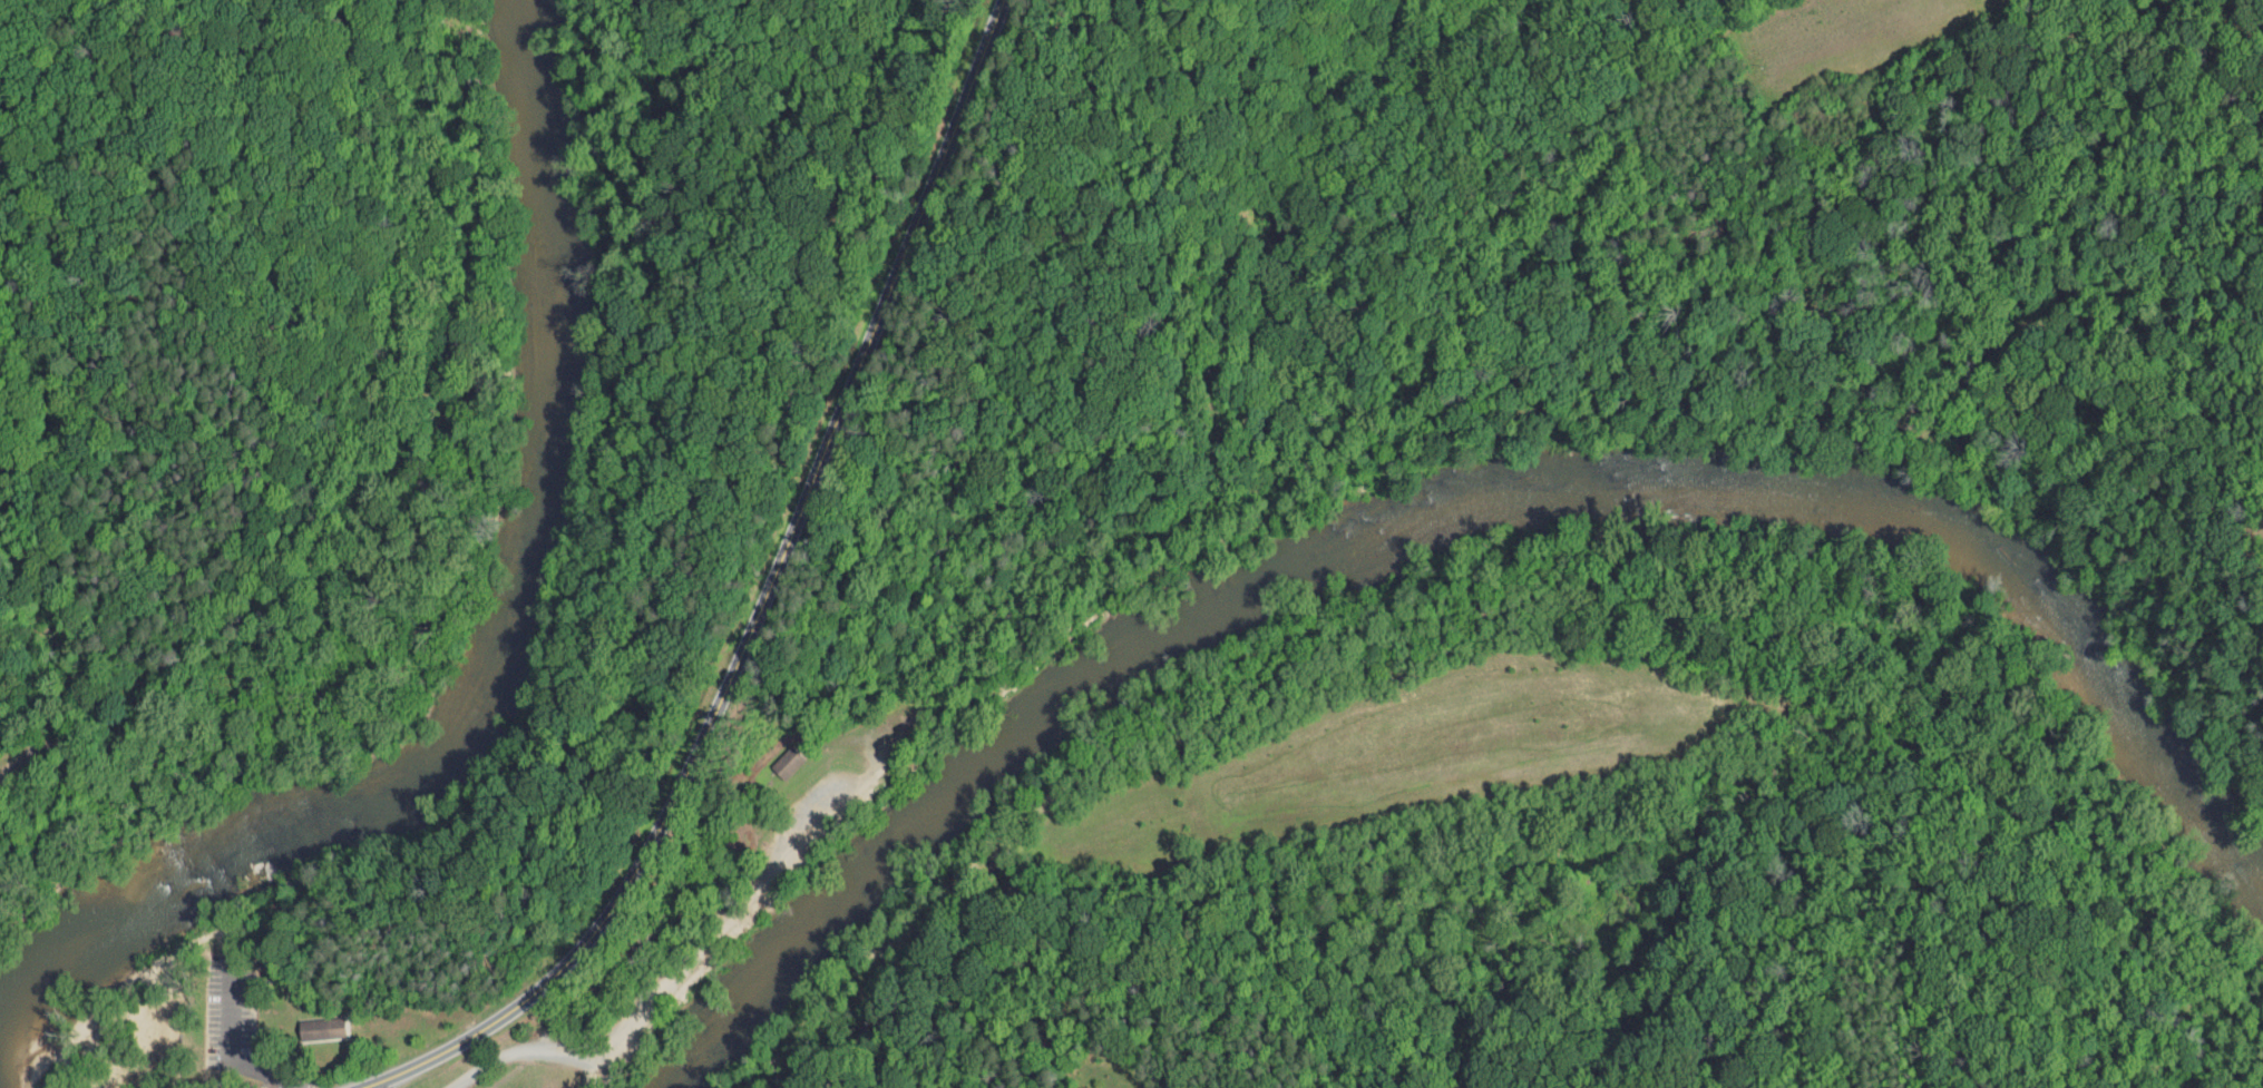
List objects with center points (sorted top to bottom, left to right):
road: (1999, 341)
road: (1637, 428)
road: (1789, 429)
road: (1226, 508)
river: (1908, 516)
river: (527, 574)
road: (761, 606)
river: (1060, 699)
building: (772, 755)
road: (16, 762)
parking lot: (773, 857)
road: (757, 892)
road: (691, 906)
river: (51, 948)
road: (699, 950)
river: (734, 1008)
parking lot: (231, 1016)
building: (305, 1020)
building: (342, 1027)
road: (228, 1047)
road: (586, 1069)
road: (310, 1082)

